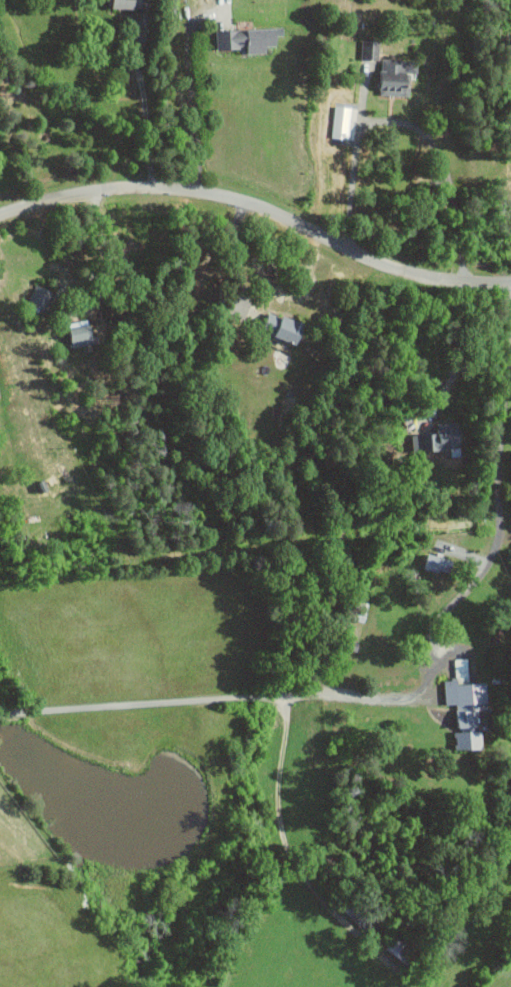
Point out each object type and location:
building: (127, 3)
building: (247, 39)
building: (370, 49)
building: (397, 77)
road: (193, 108)
road: (144, 109)
road: (354, 162)
road: (446, 170)
road: (259, 208)
road: (107, 257)
road: (236, 261)
building: (40, 296)
building: (285, 327)
building: (81, 333)
road: (461, 358)
building: (445, 438)
road: (499, 512)
building: (439, 563)
road: (204, 701)
building: (465, 705)
road: (281, 832)

